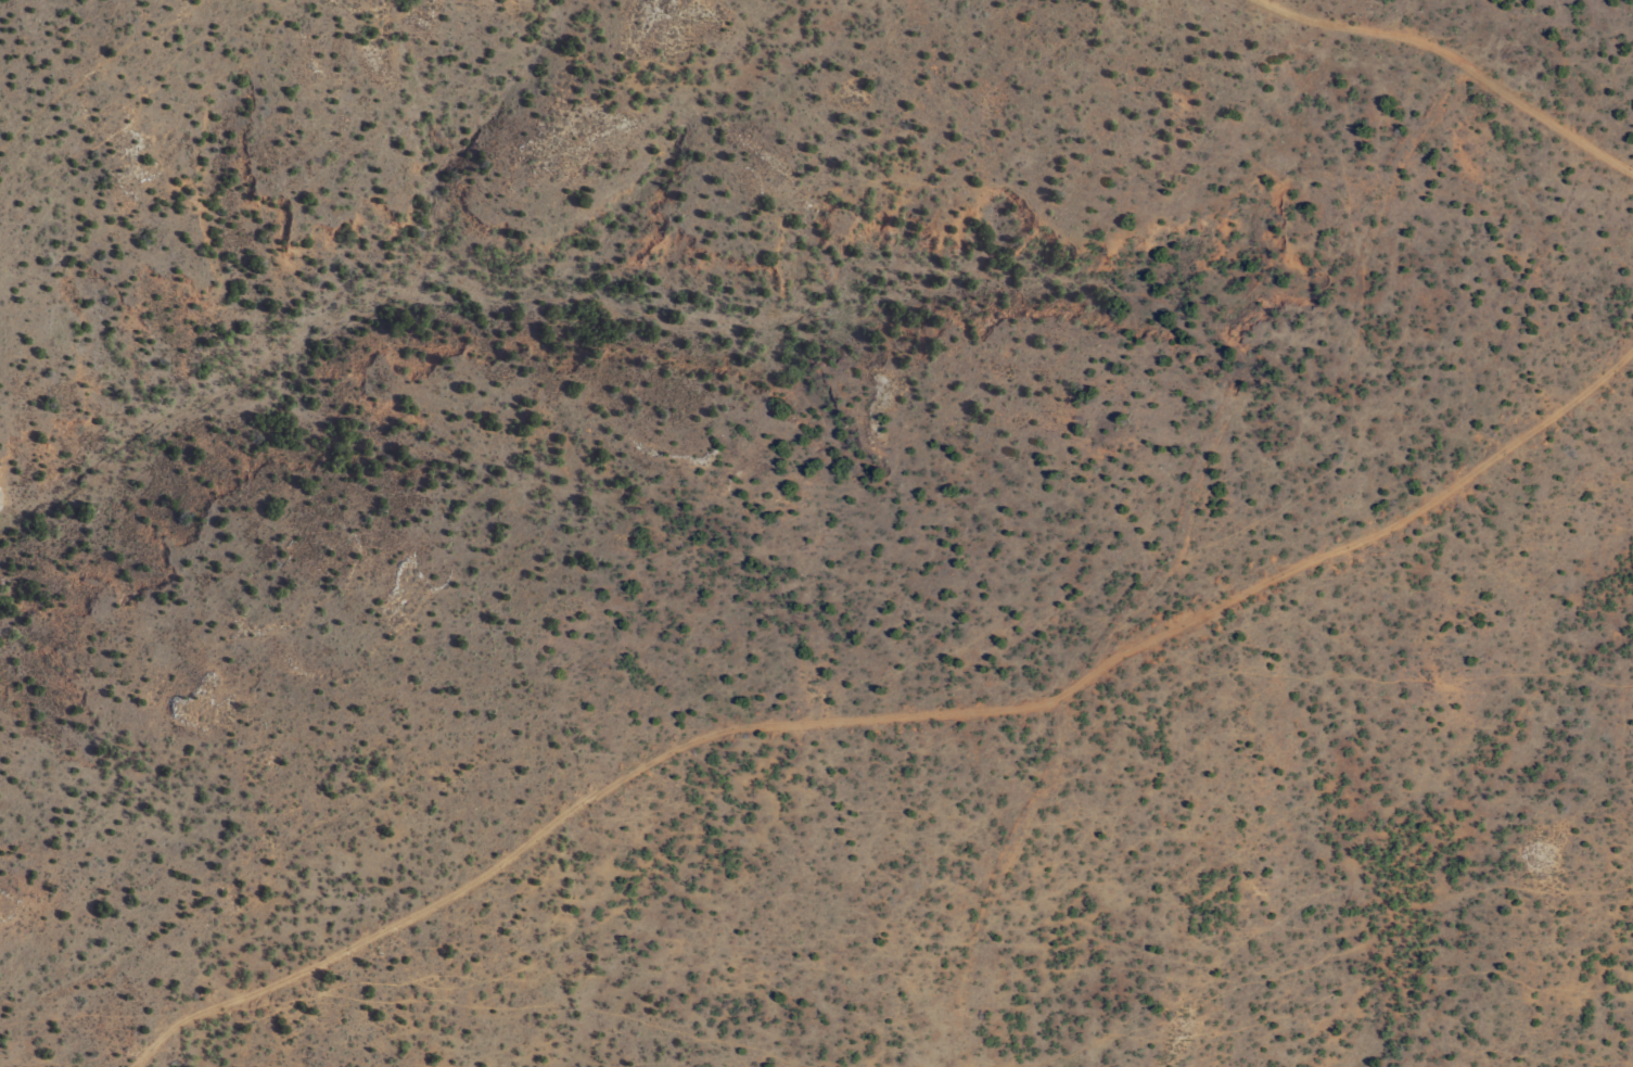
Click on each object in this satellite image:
road: (1483, 67)

